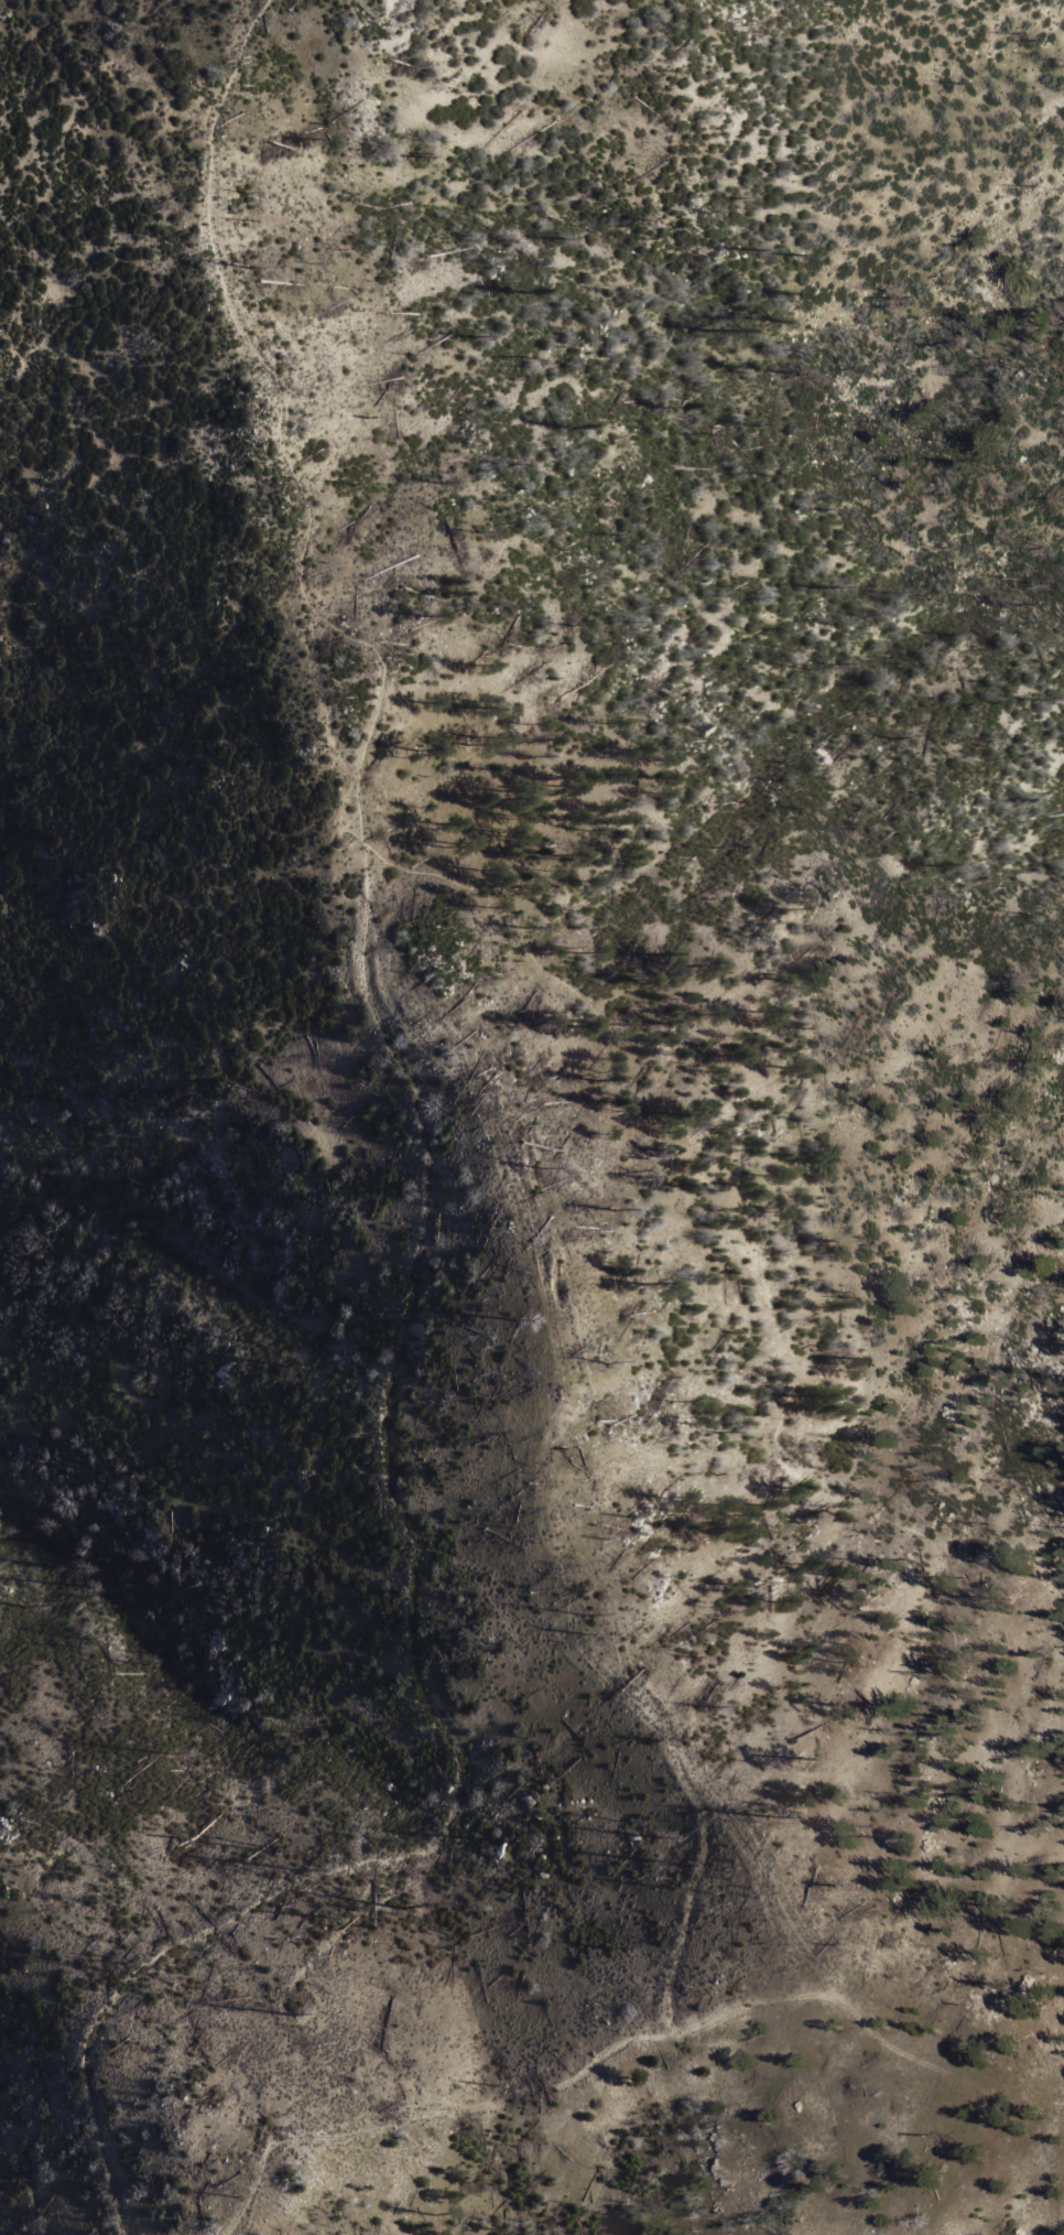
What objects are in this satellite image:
road: (467, 884)
road: (552, 1475)
road: (415, 1632)
road: (628, 2045)

